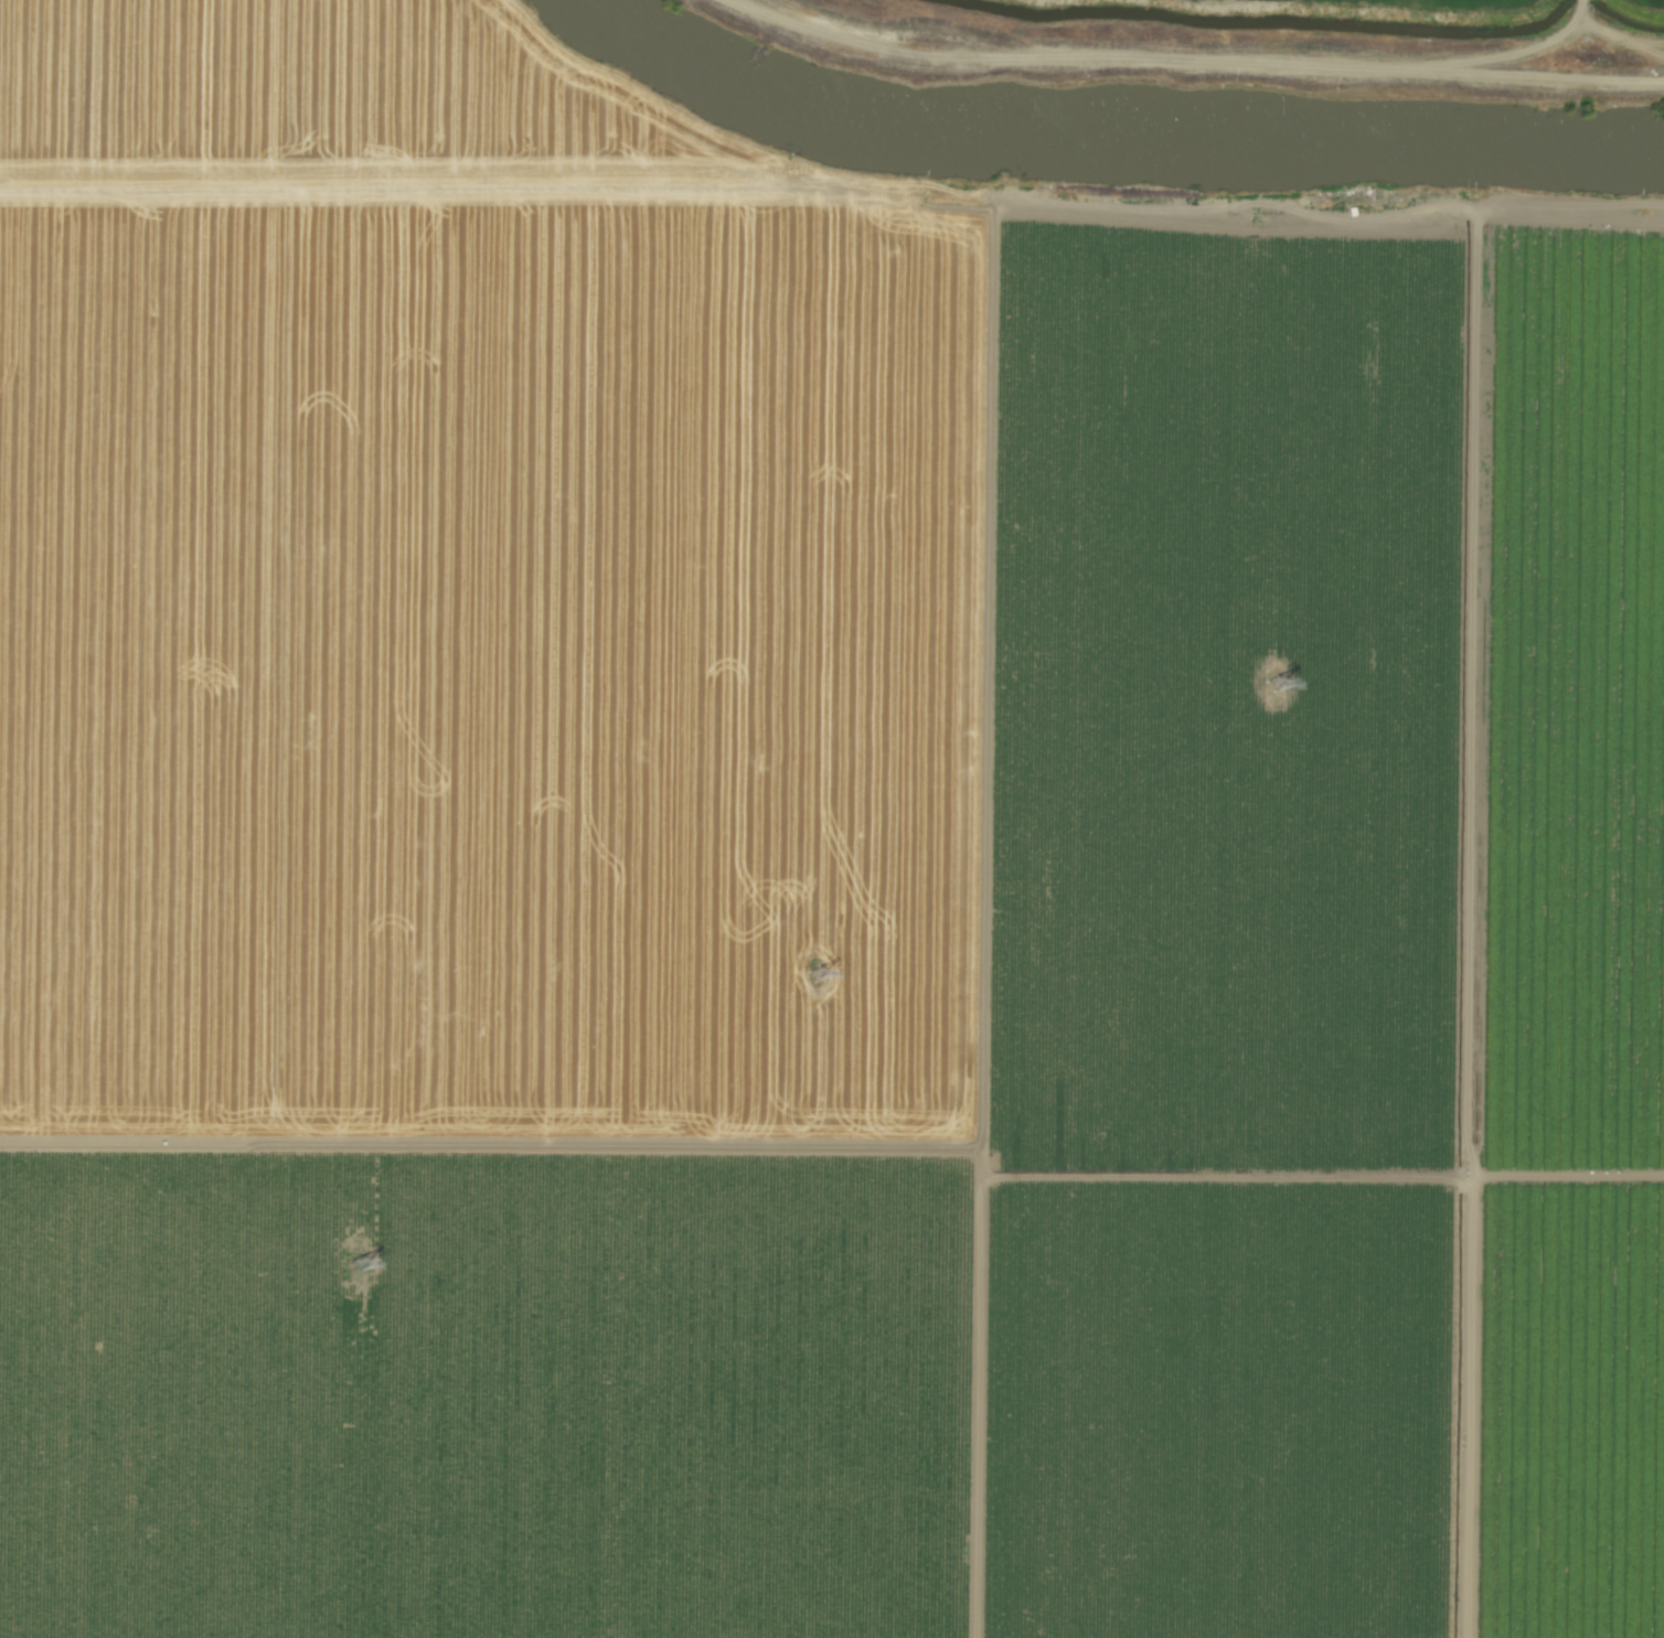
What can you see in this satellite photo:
power tower: (1281, 689)
power tower: (822, 979)
power tower: (364, 1267)

